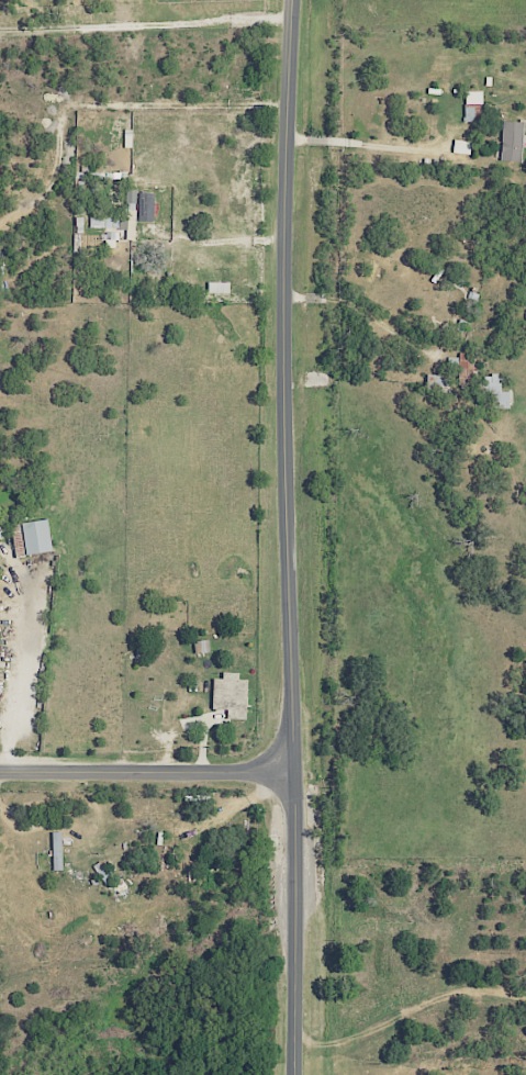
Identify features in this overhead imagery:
road: (145, 25)
road: (295, 139)
road: (315, 141)
building: (512, 142)
road: (391, 146)
building: (461, 147)
road: (406, 176)
building: (145, 206)
building: (117, 223)
building: (217, 288)
road: (363, 313)
building: (495, 391)
building: (35, 537)
road: (287, 537)
road: (85, 557)
building: (201, 647)
building: (230, 696)
road: (5, 734)
road: (146, 772)
building: (56, 850)
road: (521, 994)
road: (521, 997)
road: (405, 1014)

